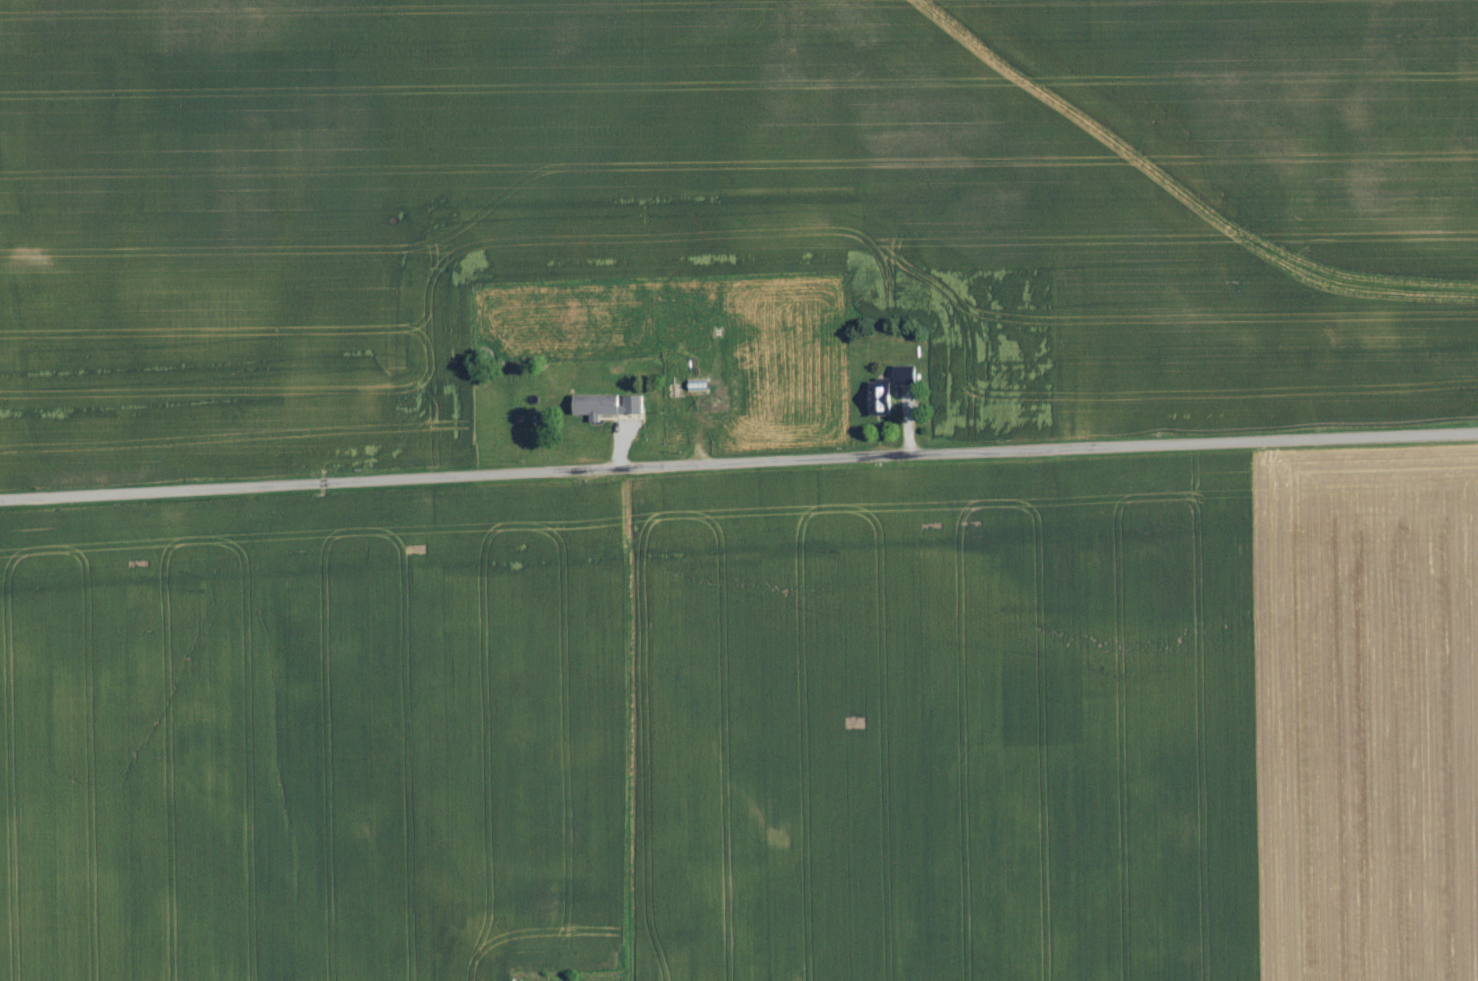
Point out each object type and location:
road: (738, 463)

